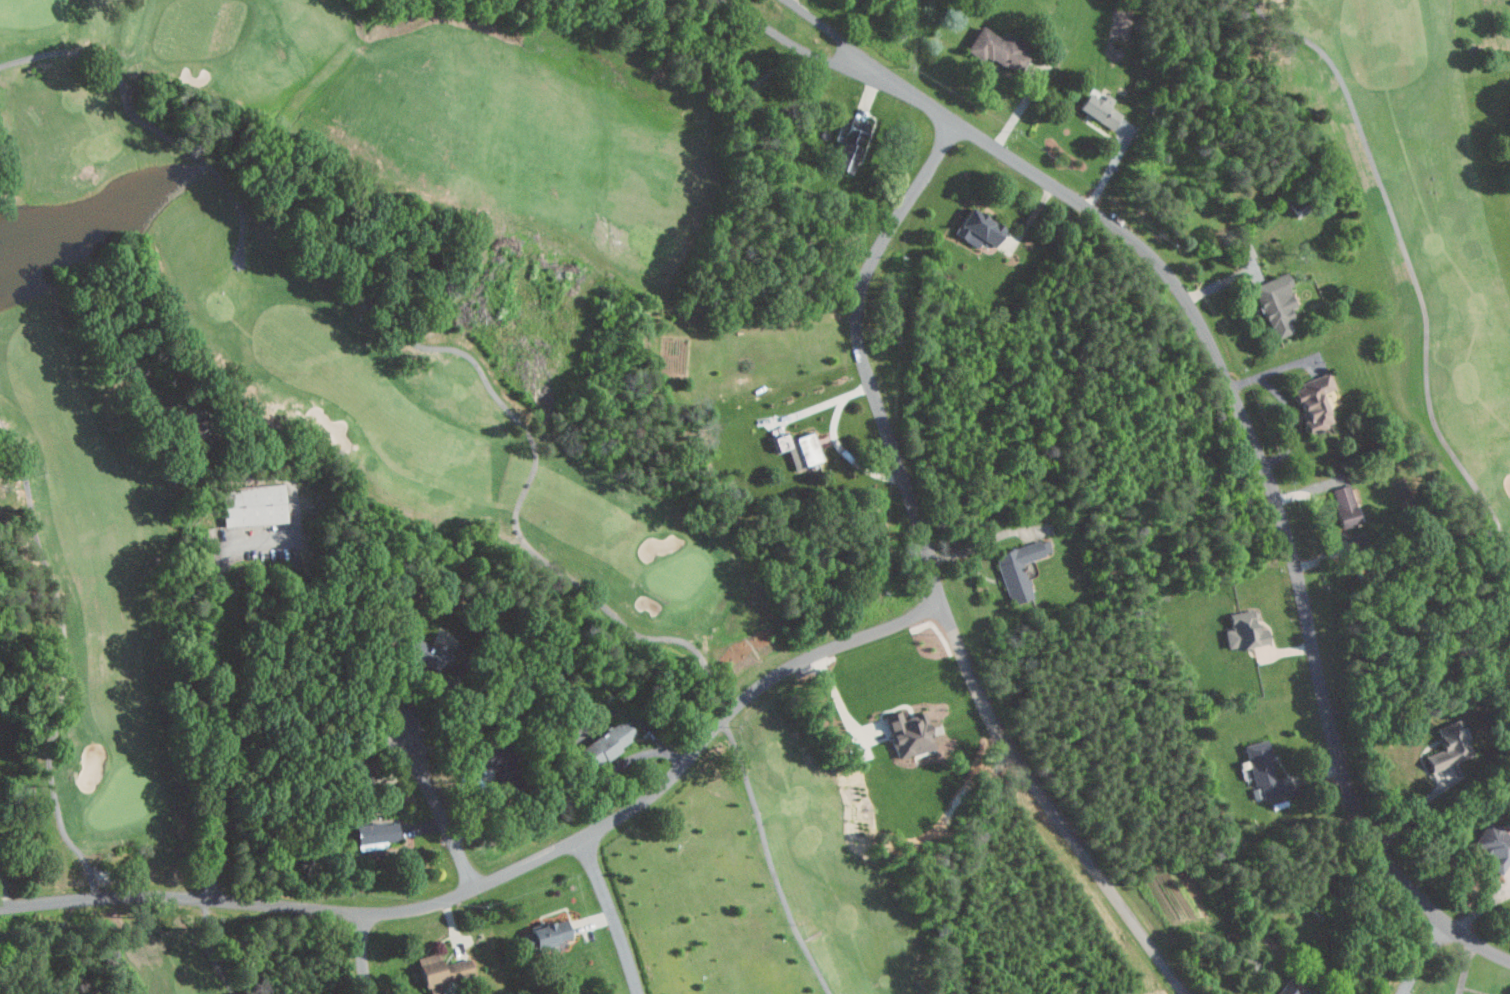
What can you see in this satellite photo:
road: (790, 1)
road: (831, 32)
road: (791, 44)
building: (998, 48)
building: (1098, 108)
building: (848, 145)
building: (977, 227)
building: (1245, 250)
road: (1410, 260)
building: (1275, 302)
road: (862, 353)
building: (1313, 400)
road: (1288, 407)
road: (532, 427)
road: (1262, 467)
park: (755, 497)
building: (253, 504)
building: (1344, 505)
building: (1019, 567)
building: (1242, 630)
building: (423, 653)
road: (214, 656)
road: (747, 696)
road: (843, 705)
building: (907, 733)
building: (606, 742)
building: (1448, 748)
building: (1261, 770)
road: (1049, 804)
road: (439, 808)
road: (1415, 810)
building: (372, 834)
building: (1494, 845)
road: (475, 887)
road: (181, 898)
road: (612, 915)
building: (548, 933)
road: (219, 948)
road: (361, 953)
road: (1423, 957)
road: (1466, 967)
building: (438, 969)
building: (1305, 990)

